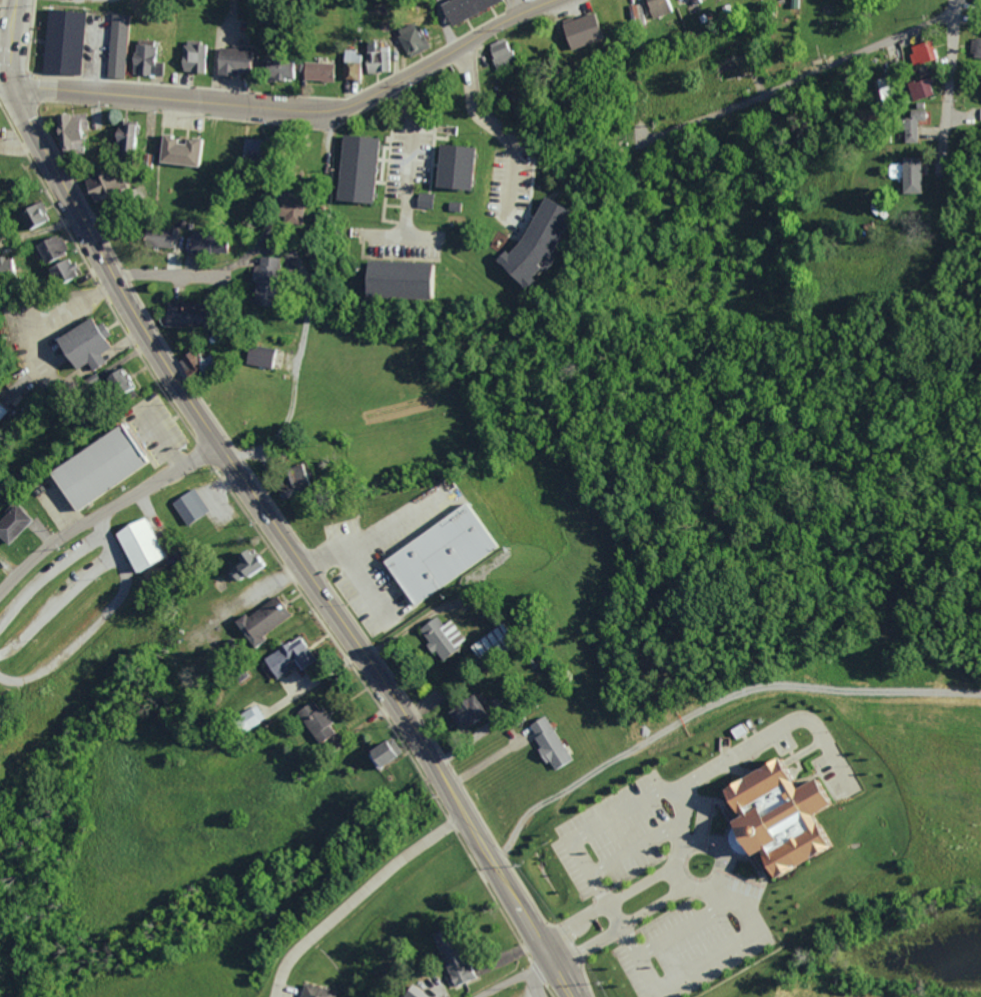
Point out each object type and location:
building: (977, 1)
building: (659, 7)
building: (462, 8)
building: (636, 14)
building: (581, 31)
building: (410, 39)
building: (65, 40)
building: (119, 45)
building: (371, 45)
building: (975, 48)
building: (500, 51)
building: (921, 52)
building: (194, 57)
building: (145, 58)
building: (378, 60)
building: (231, 61)
building: (349, 64)
building: (360, 66)
building: (279, 69)
building: (318, 71)
road: (789, 74)
road: (945, 82)
road: (6, 84)
traffic signals: (13, 85)
building: (919, 89)
road: (296, 108)
building: (980, 113)
road: (487, 121)
building: (910, 125)
building: (69, 132)
building: (125, 137)
building: (248, 149)
building: (179, 151)
road: (409, 154)
building: (451, 167)
building: (353, 169)
building: (907, 174)
building: (102, 184)
building: (423, 199)
building: (286, 209)
building: (33, 214)
building: (157, 236)
building: (529, 243)
building: (205, 245)
building: (49, 248)
building: (7, 267)
building: (264, 269)
building: (60, 271)
road: (156, 274)
building: (396, 280)
building: (176, 314)
building: (40, 328)
building: (83, 339)
building: (259, 355)
building: (194, 361)
building: (117, 381)
building: (2, 403)
parking lot: (155, 428)
building: (99, 469)
parking lot: (55, 500)
building: (196, 506)
road: (263, 507)
road: (104, 509)
building: (13, 525)
road: (94, 538)
building: (149, 543)
building: (451, 552)
building: (3, 564)
building: (249, 566)
road: (43, 577)
road: (56, 599)
building: (269, 619)
road: (79, 631)
building: (449, 636)
building: (500, 641)
building: (298, 656)
building: (474, 712)
building: (324, 721)
building: (4, 723)
building: (546, 741)
building: (393, 751)
building: (788, 815)
road: (673, 876)
road: (610, 919)
road: (556, 951)
building: (449, 960)
road: (503, 973)
road: (533, 980)
building: (316, 991)
building: (413, 992)

